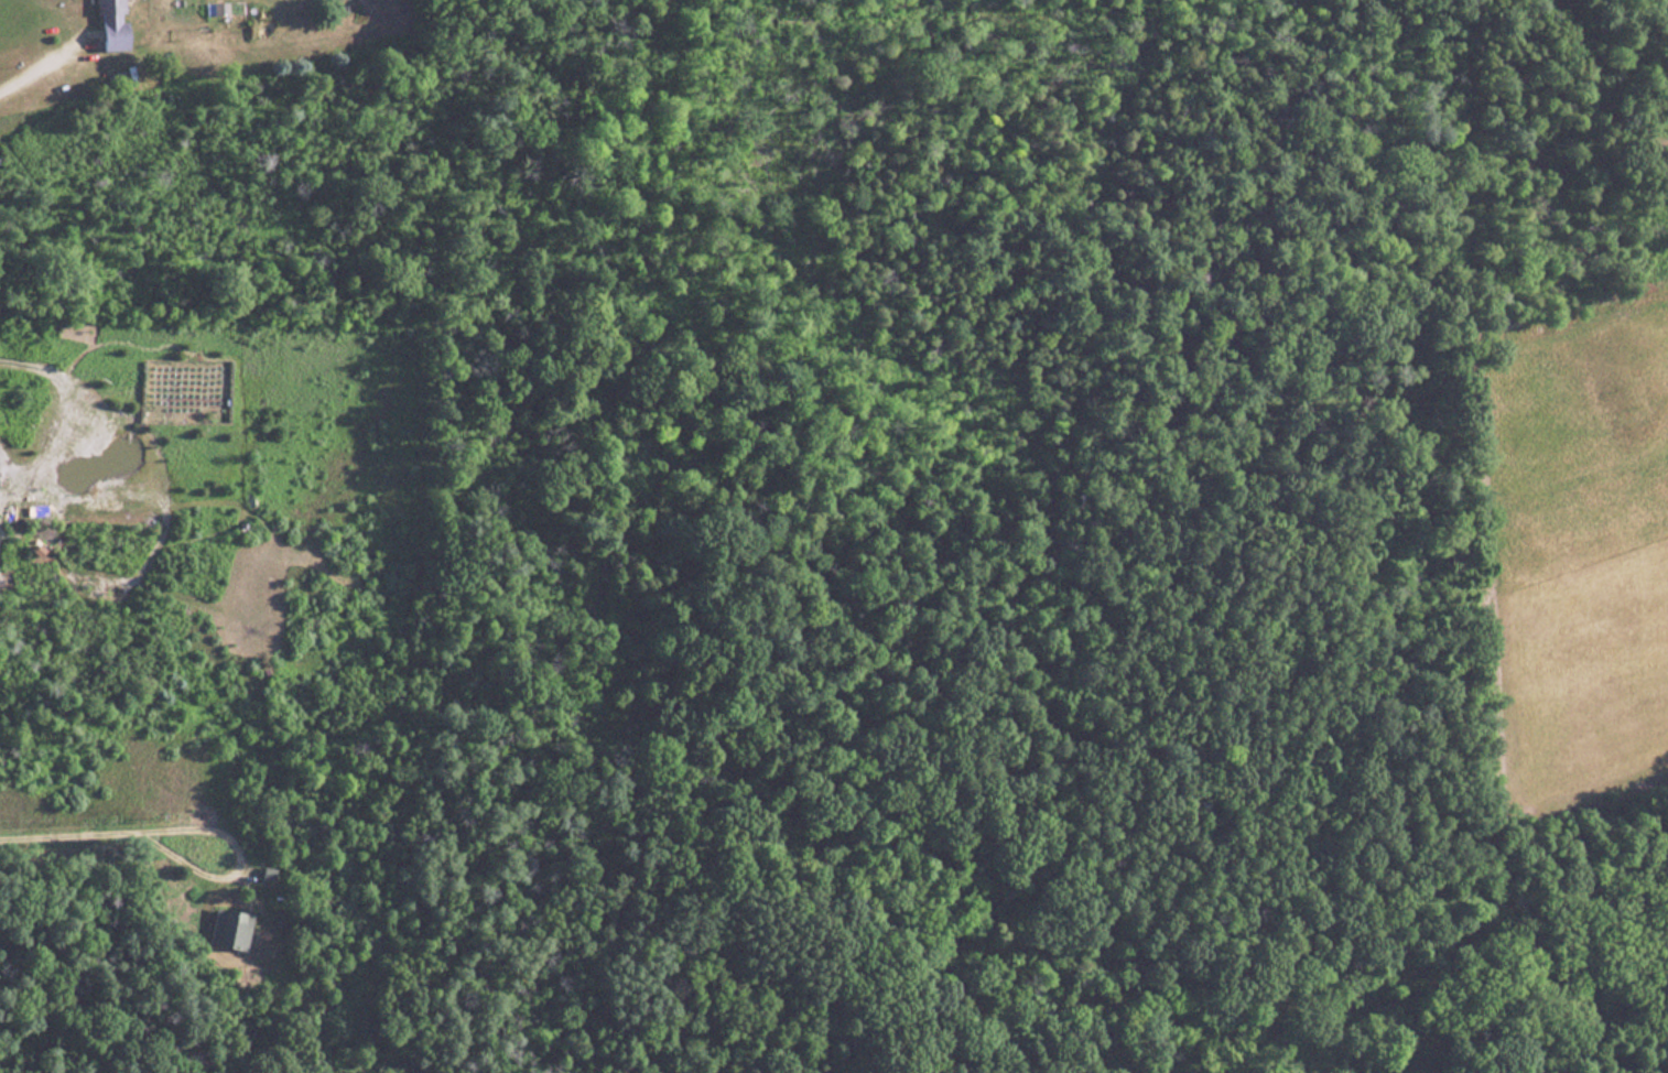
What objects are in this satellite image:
building: (115, 24)
road: (39, 54)
road: (65, 832)
road: (232, 858)
building: (264, 874)
building: (232, 929)

